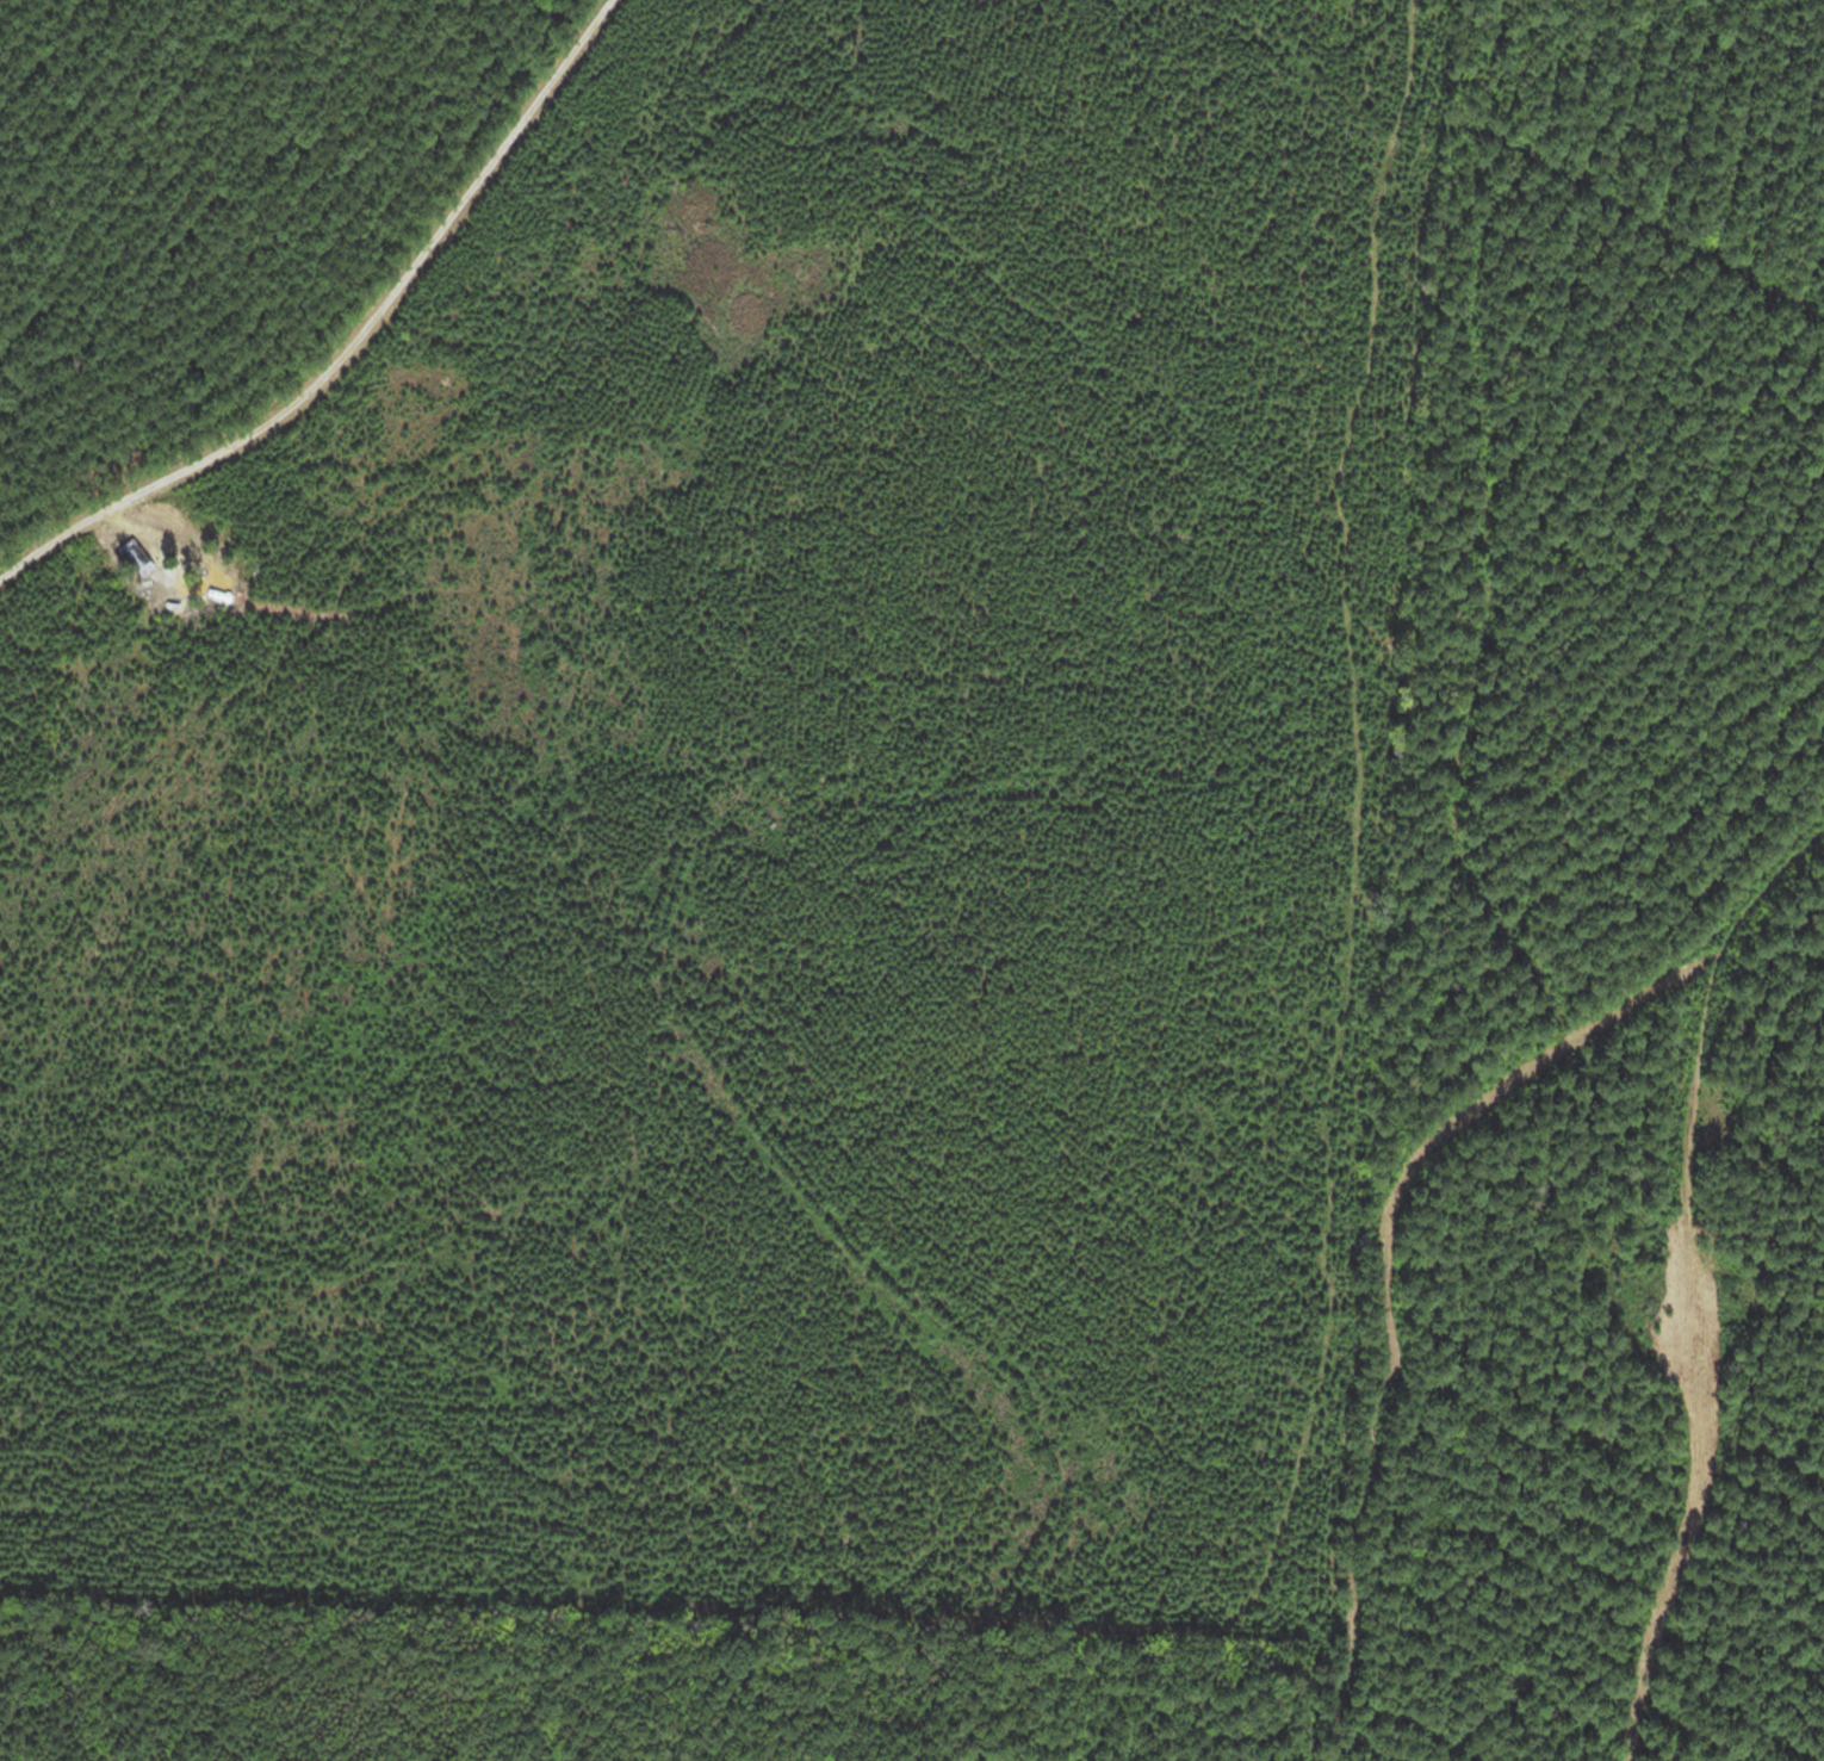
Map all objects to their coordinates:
road: (339, 339)

